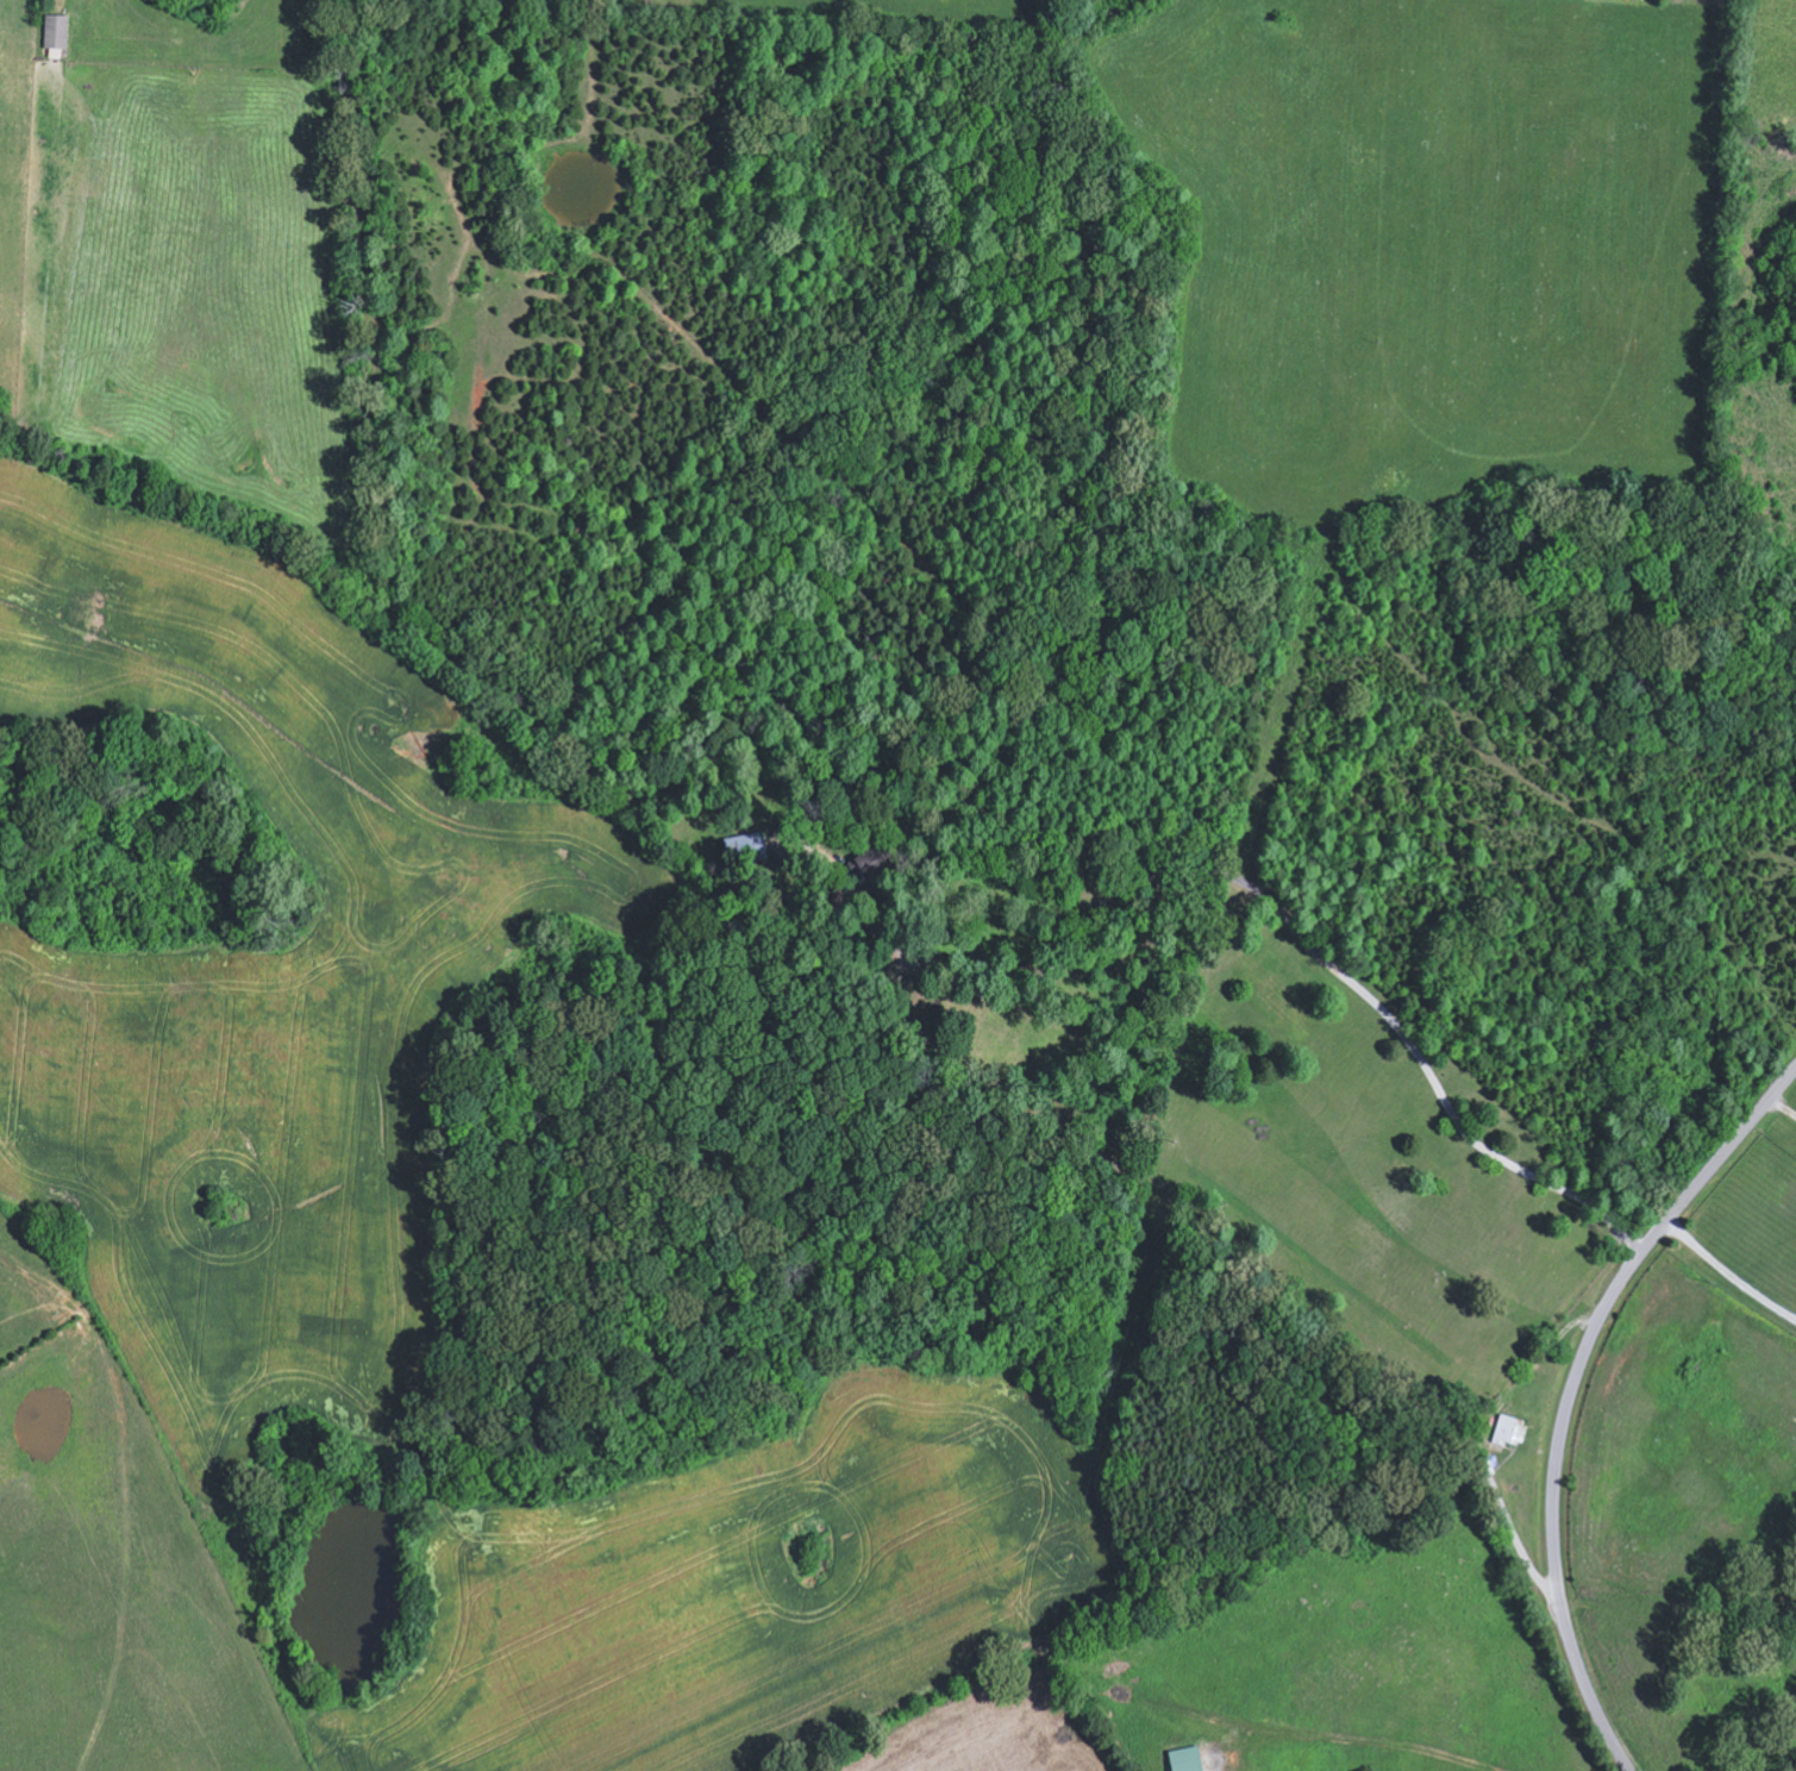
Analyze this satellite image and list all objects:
building: (57, 30)
building: (747, 849)
building: (874, 864)
road: (1781, 1115)
road: (1725, 1283)
road: (1572, 1393)
building: (1510, 1431)
building: (1188, 1759)

